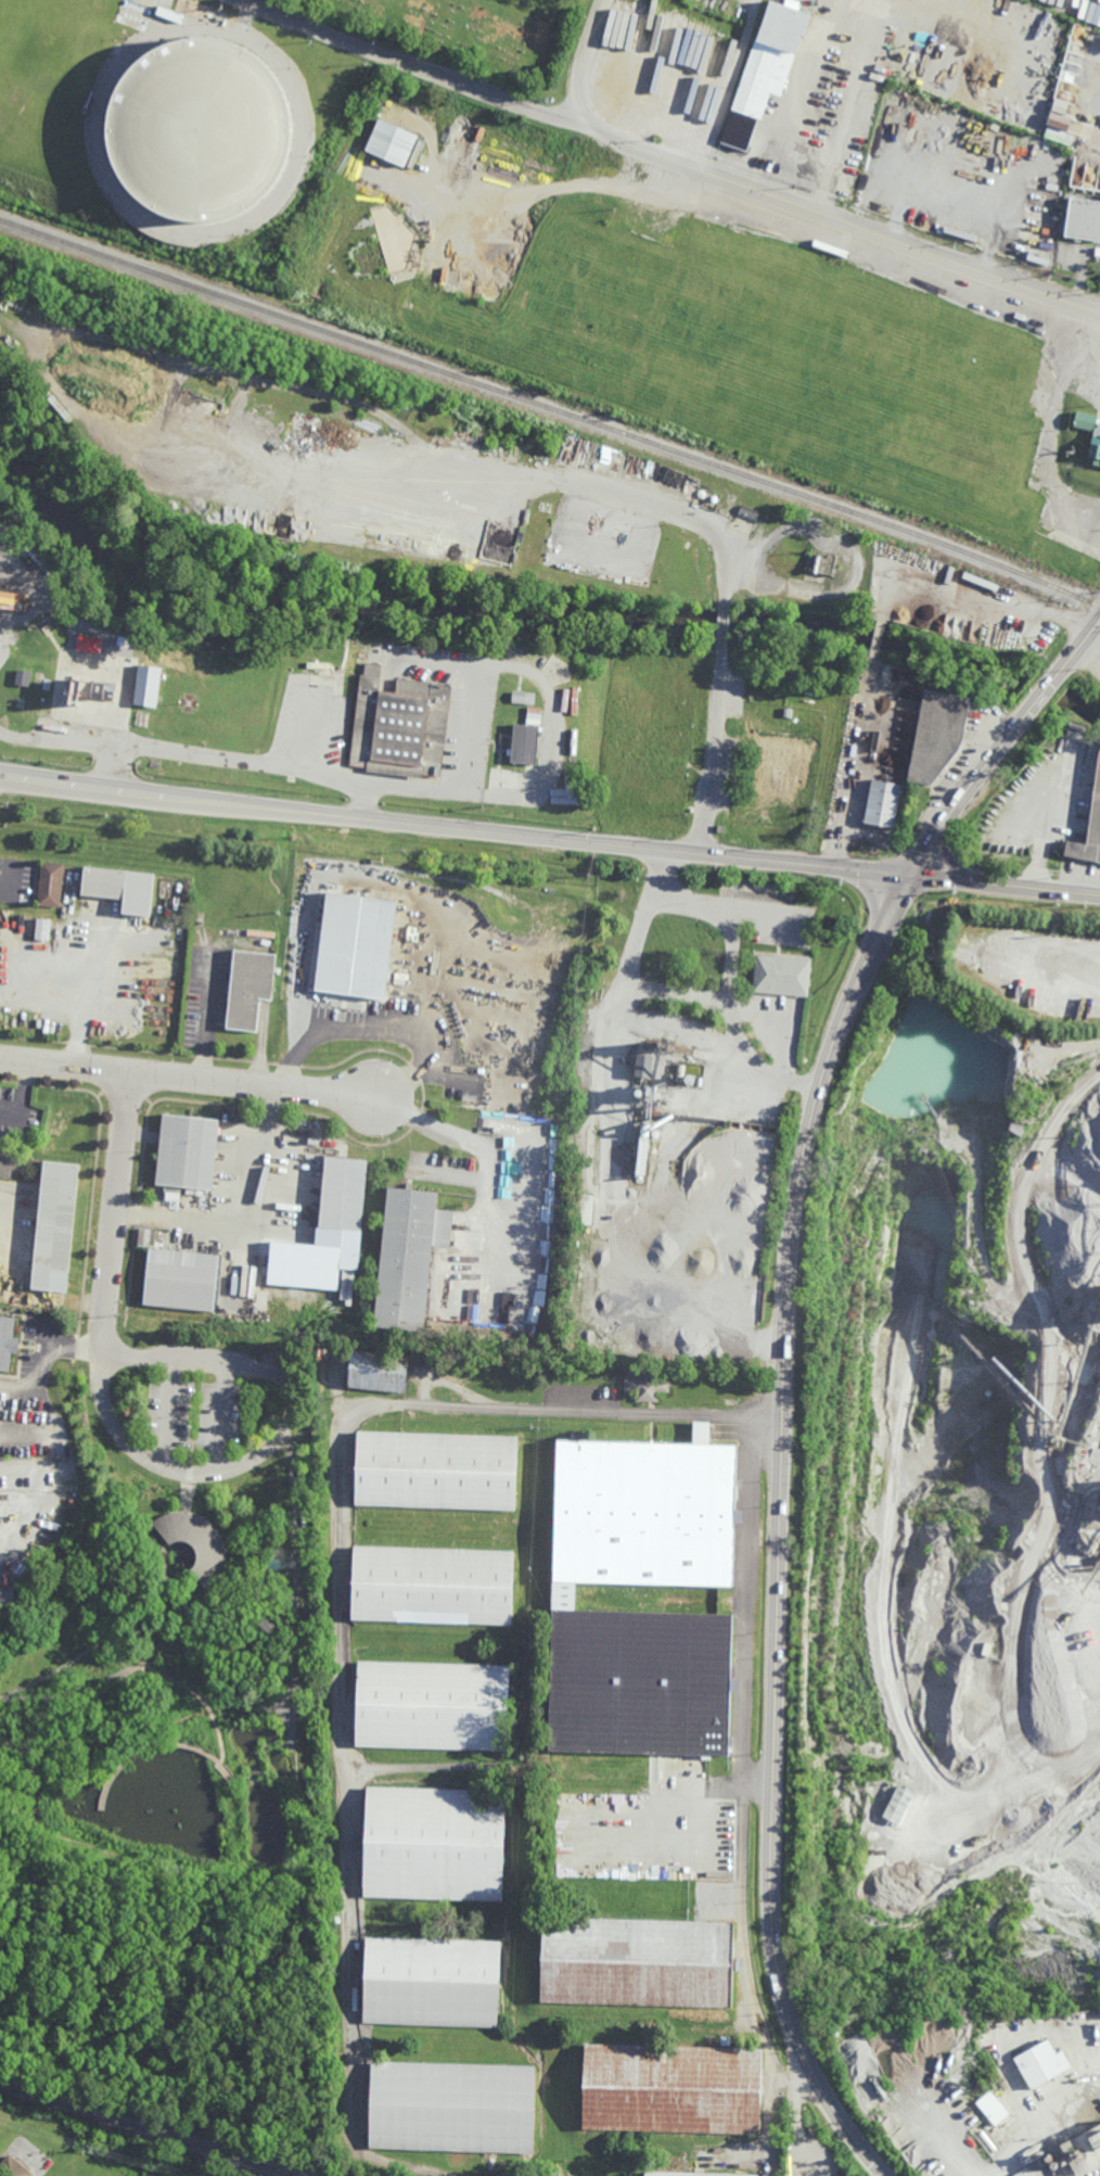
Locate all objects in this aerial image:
building: (695, 1)
road: (857, 15)
park: (476, 33)
building: (772, 59)
road: (417, 66)
building: (199, 132)
storage tank: (199, 132)
building: (1027, 140)
building: (391, 143)
building: (791, 155)
road: (784, 196)
building: (1040, 218)
building: (1083, 218)
railway: (552, 408)
road: (1052, 431)
building: (1095, 442)
building: (610, 471)
road: (570, 484)
building: (701, 494)
building: (714, 498)
building: (749, 511)
building: (0, 526)
building: (13, 600)
road: (979, 607)
road: (722, 623)
road: (877, 638)
road: (508, 664)
building: (340, 667)
building: (327, 670)
building: (23, 676)
building: (151, 685)
building: (97, 688)
building: (523, 697)
building: (788, 712)
building: (534, 716)
building: (401, 726)
building: (937, 734)
road: (74, 741)
building: (789, 741)
building: (528, 745)
road: (1002, 745)
road: (715, 749)
road: (1019, 755)
road: (240, 760)
road: (854, 763)
building: (777, 774)
road: (435, 790)
building: (884, 804)
road: (720, 816)
road: (455, 827)
building: (720, 828)
building: (1089, 830)
road: (932, 839)
traffic signals: (911, 874)
road: (356, 880)
road: (1006, 883)
building: (51, 885)
building: (121, 888)
road: (728, 908)
road: (643, 920)
building: (42, 929)
building: (372, 952)
building: (436, 962)
building: (783, 976)
building: (250, 987)
road: (389, 1027)
building: (652, 1057)
building: (681, 1069)
road: (187, 1078)
building: (694, 1080)
building: (655, 1093)
road: (610, 1099)
building: (655, 1123)
building: (656, 1132)
road: (473, 1145)
building: (188, 1151)
building: (644, 1155)
building: (9, 1161)
building: (344, 1192)
building: (586, 1208)
road: (113, 1212)
building: (57, 1226)
building: (409, 1256)
building: (304, 1264)
building: (181, 1280)
building: (7, 1341)
building: (276, 1353)
building: (378, 1372)
building: (648, 1388)
road: (171, 1412)
parking lot: (195, 1412)
road: (225, 1416)
road: (767, 1416)
road: (194, 1425)
road: (273, 1443)
building: (437, 1472)
road: (189, 1475)
road: (186, 1497)
road: (780, 1528)
building: (195, 1542)
road: (194, 1556)
quarry: (960, 1556)
building: (433, 1587)
road: (298, 1589)
road: (747, 1596)
building: (565, 1600)
road: (158, 1617)
road: (341, 1625)
road: (98, 1643)
road: (138, 1667)
building: (433, 1705)
road: (75, 1711)
road: (119, 1736)
park: (180, 1740)
road: (5, 1743)
road: (156, 1745)
road: (758, 1777)
road: (36, 1795)
building: (897, 1805)
building: (436, 1841)
road: (742, 1867)
road: (37, 1934)
building: (638, 1961)
building: (432, 1983)
road: (274, 1999)
building: (1041, 2063)
road: (771, 2065)
building: (674, 2089)
building: (452, 2107)
building: (992, 2108)
railway: (146, 2130)
road: (956, 2141)
building: (1083, 2151)
building: (14, 2168)
building: (554, 2173)
building: (691, 2174)

